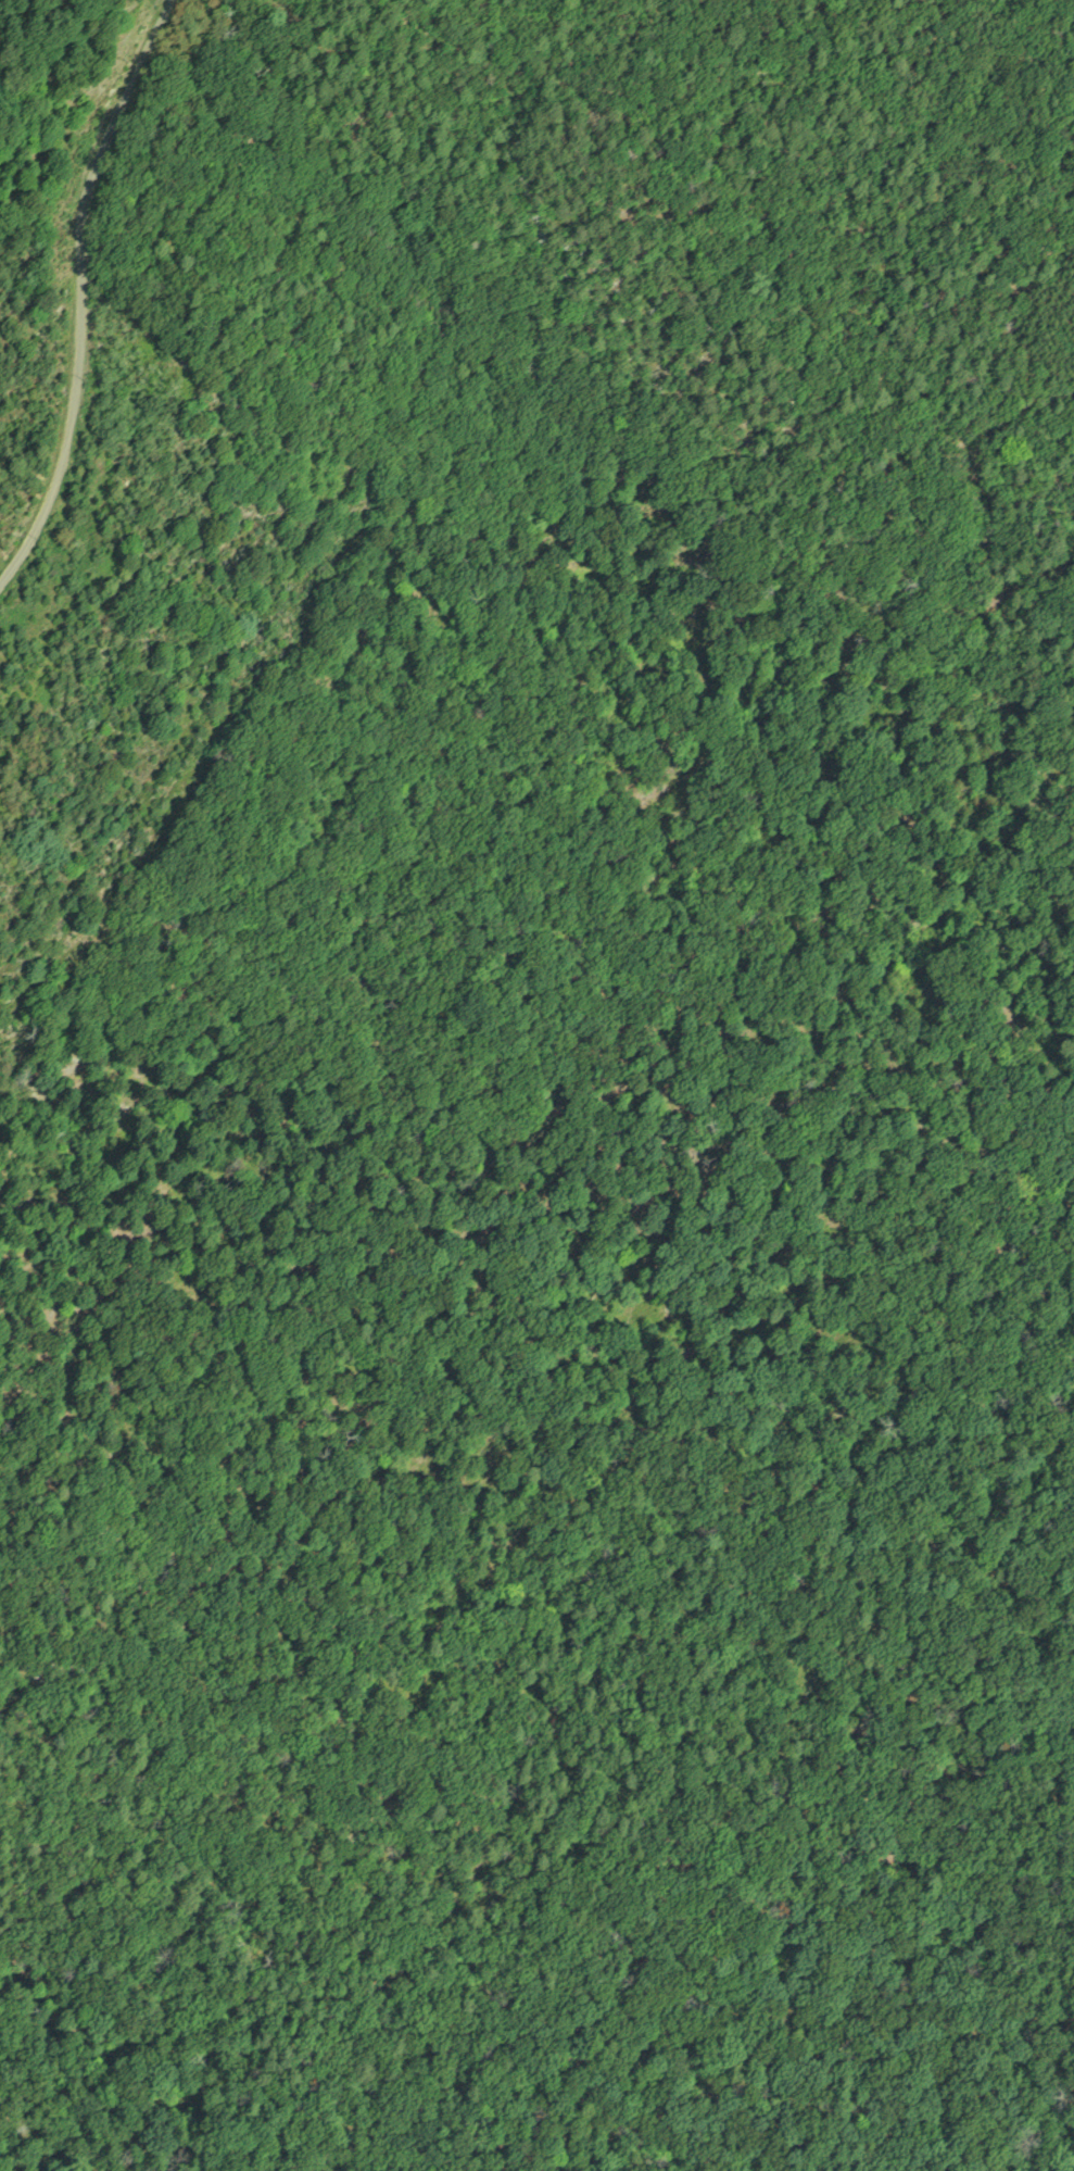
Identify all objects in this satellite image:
road: (104, 381)

